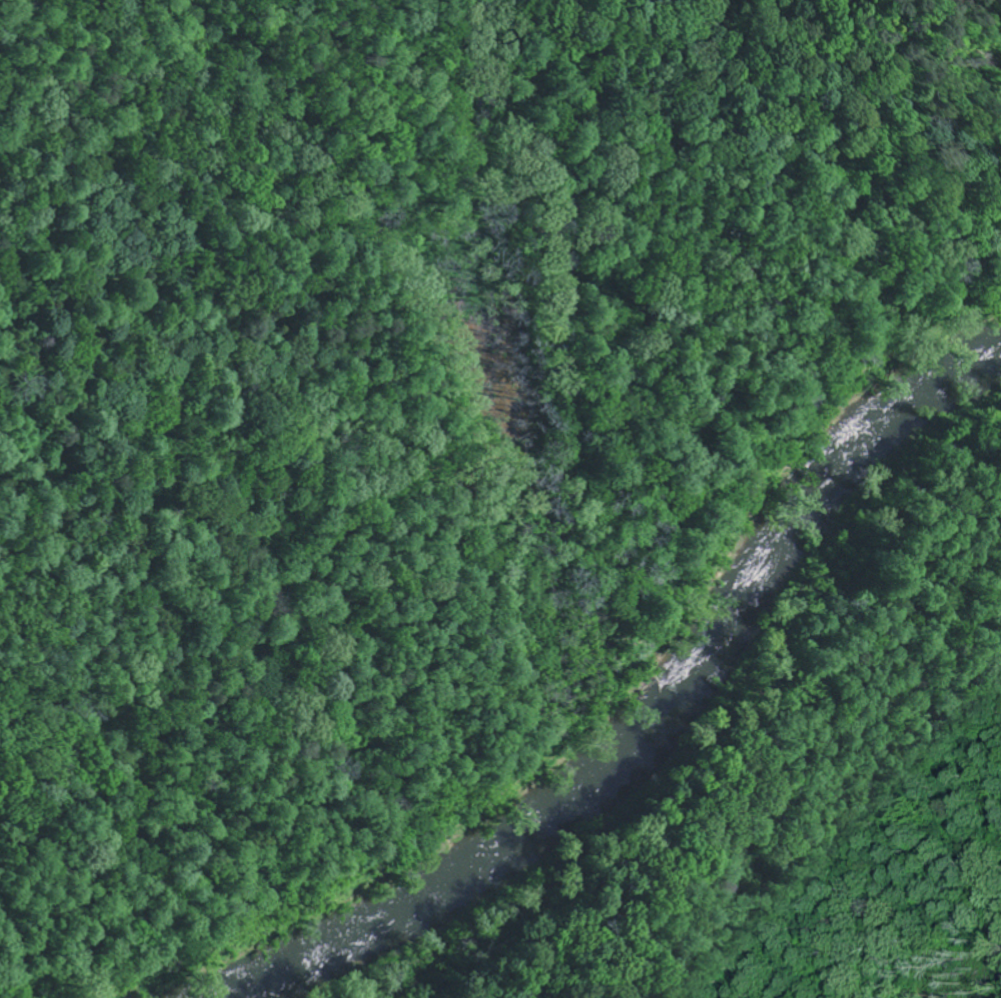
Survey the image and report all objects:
river: (649, 737)

